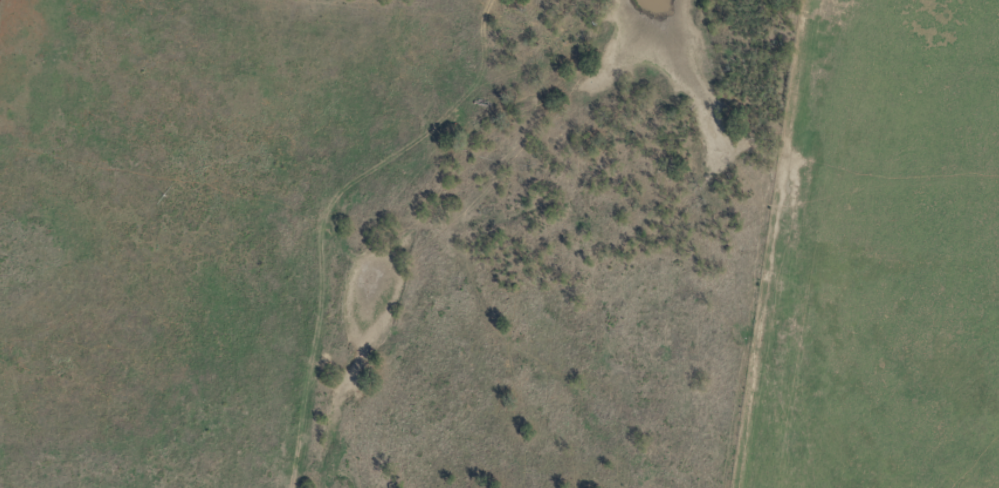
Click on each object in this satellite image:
road: (379, 219)
road: (534, 303)

